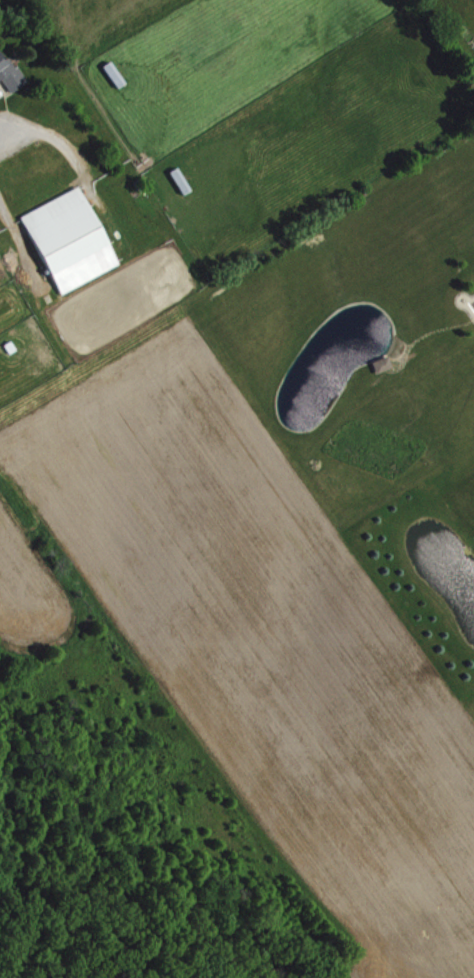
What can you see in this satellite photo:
building: (110, 73)
building: (8, 76)
road: (38, 134)
building: (176, 180)
building: (65, 241)
building: (6, 346)
building: (385, 363)

